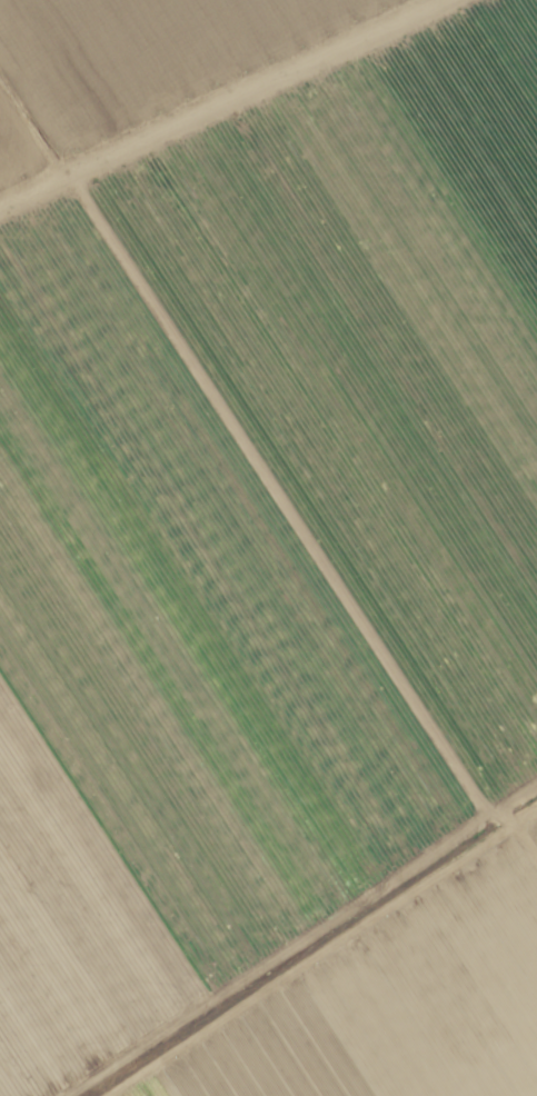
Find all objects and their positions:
road: (215, 94)
crop: (268, 548)

